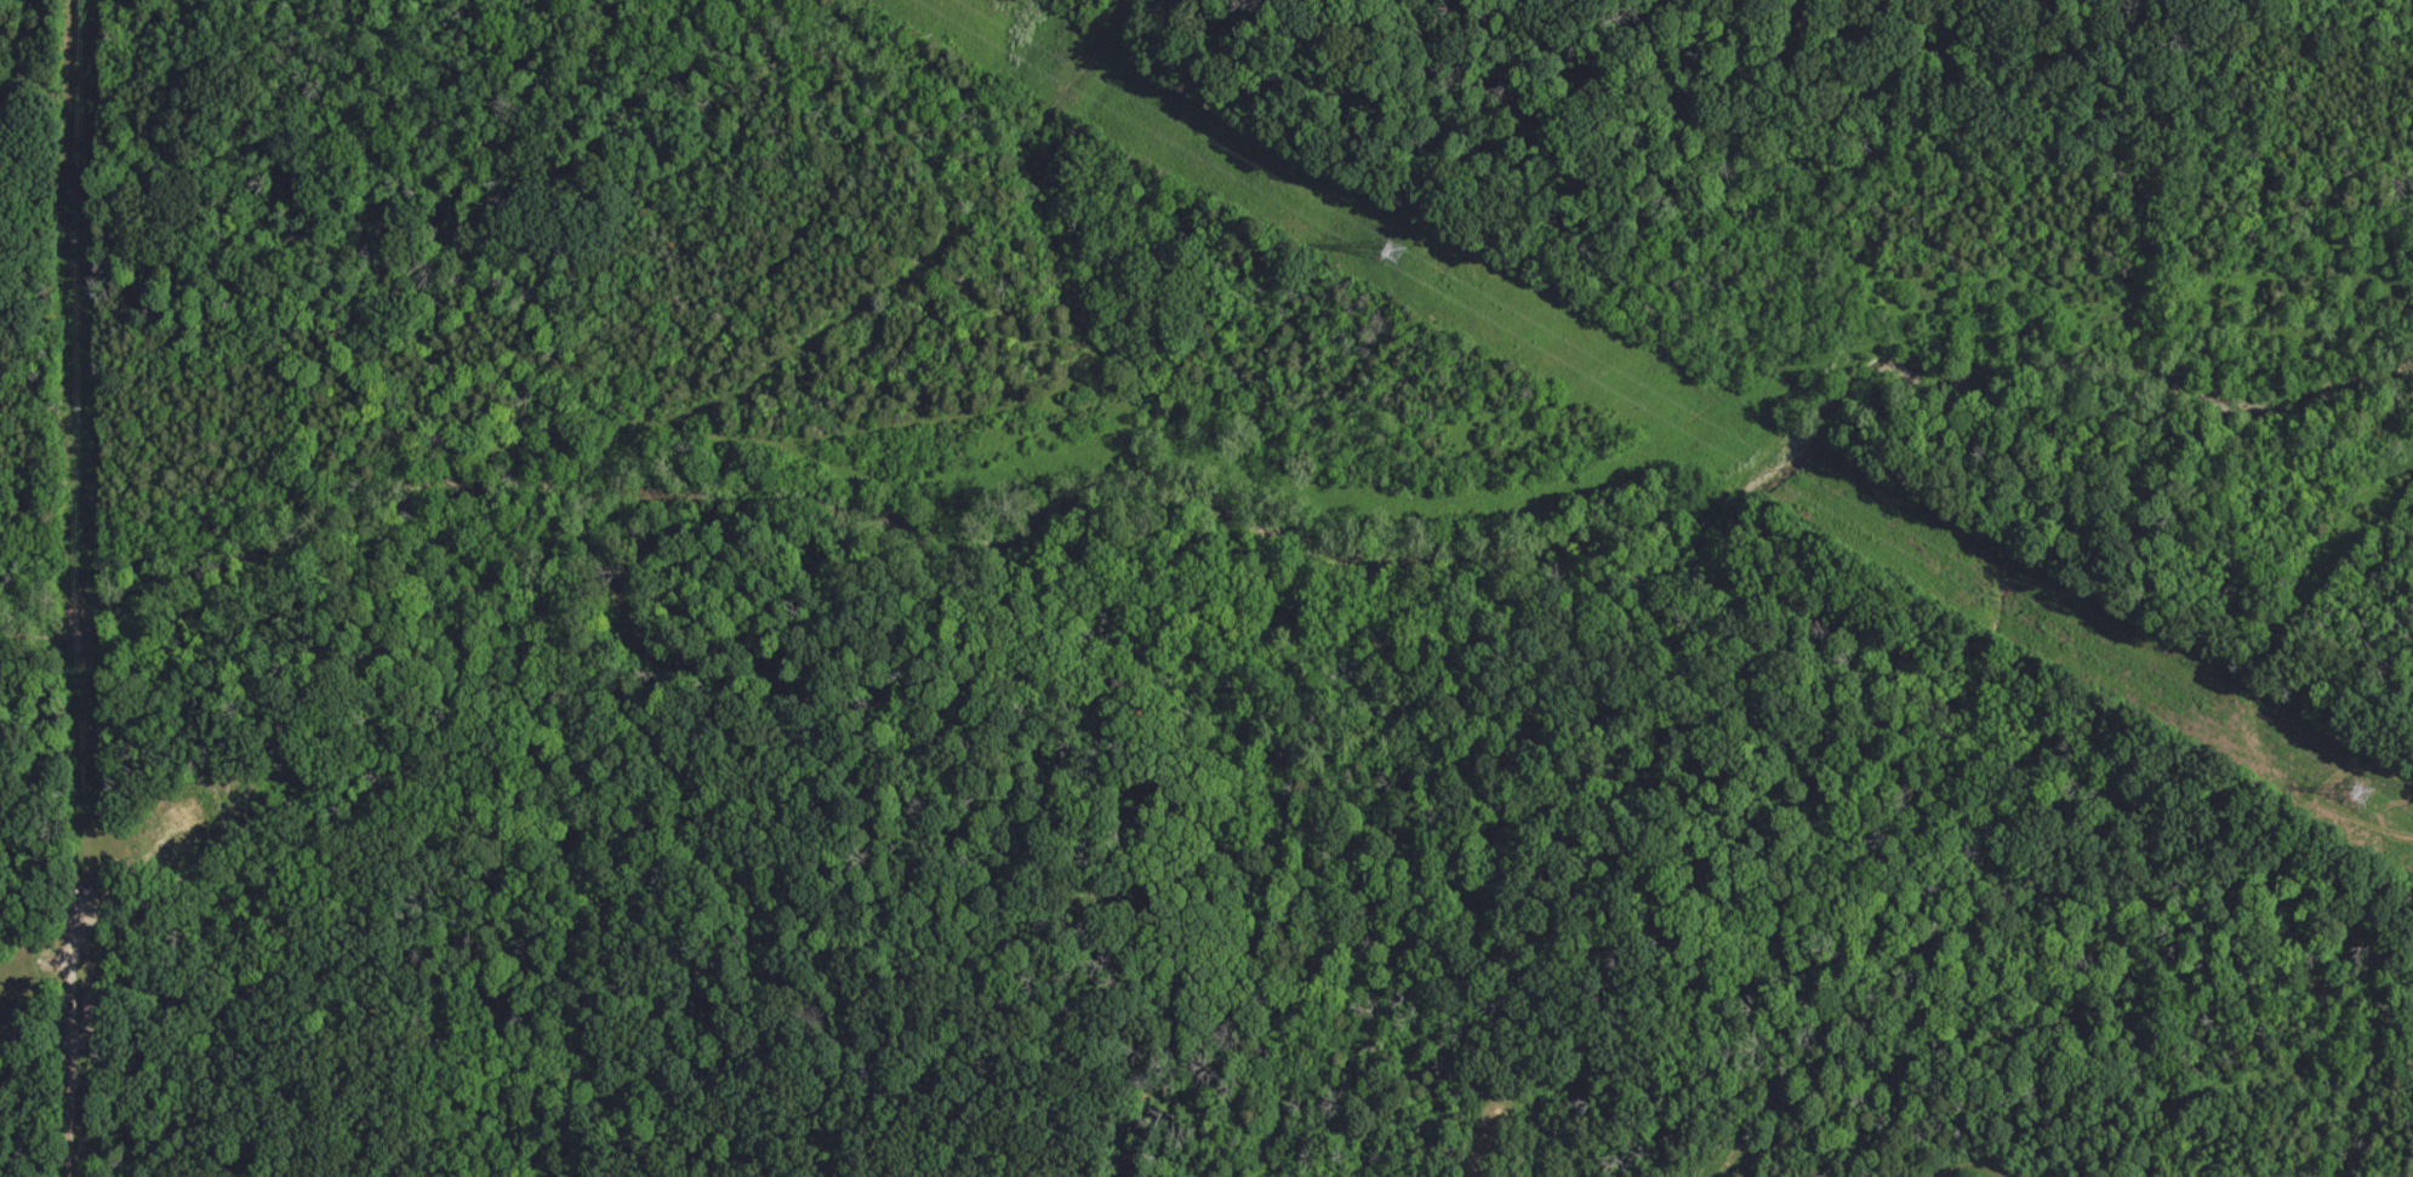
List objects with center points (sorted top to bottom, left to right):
power tower: (1397, 240)
power tower: (2389, 785)
road: (80, 999)
building: (93, 1005)
building: (107, 1005)

